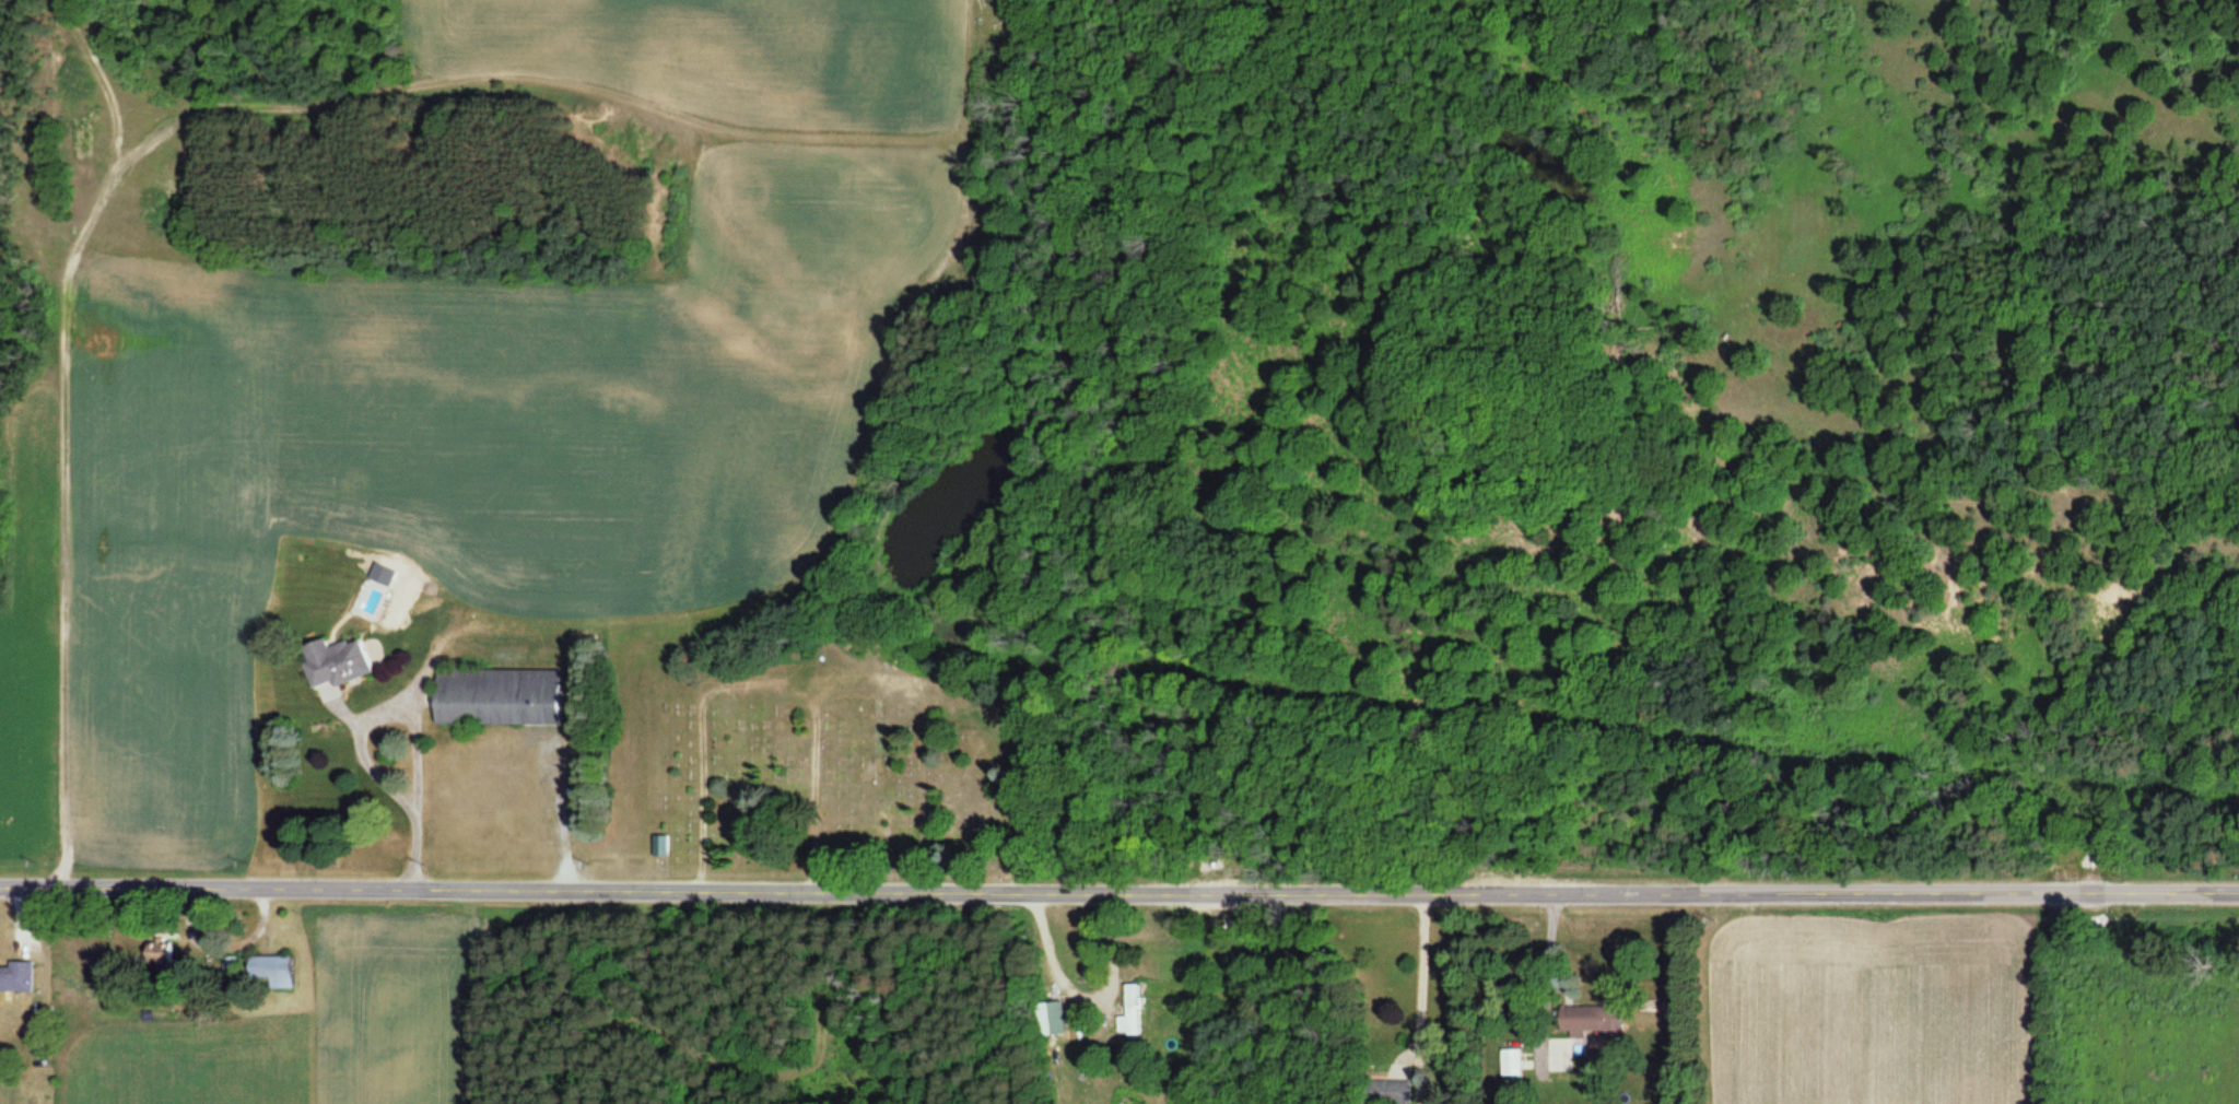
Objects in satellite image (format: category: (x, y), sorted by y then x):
building: (333, 661)
building: (496, 696)
park: (807, 762)
building: (658, 845)
road: (1118, 894)
building: (270, 970)
building: (15, 976)
building: (1128, 1012)
building: (1048, 1019)
building: (1587, 1020)
building: (1387, 1092)

